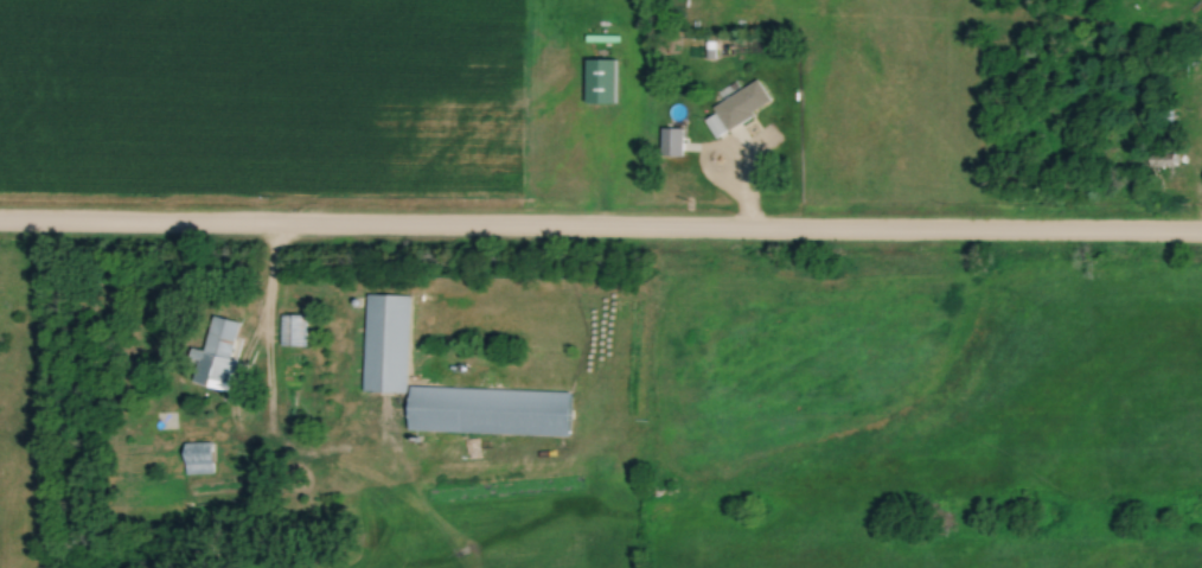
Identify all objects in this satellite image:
building: (600, 81)
building: (742, 104)
road: (601, 235)
building: (293, 331)
building: (385, 343)
building: (220, 355)
building: (490, 411)
building: (198, 458)

